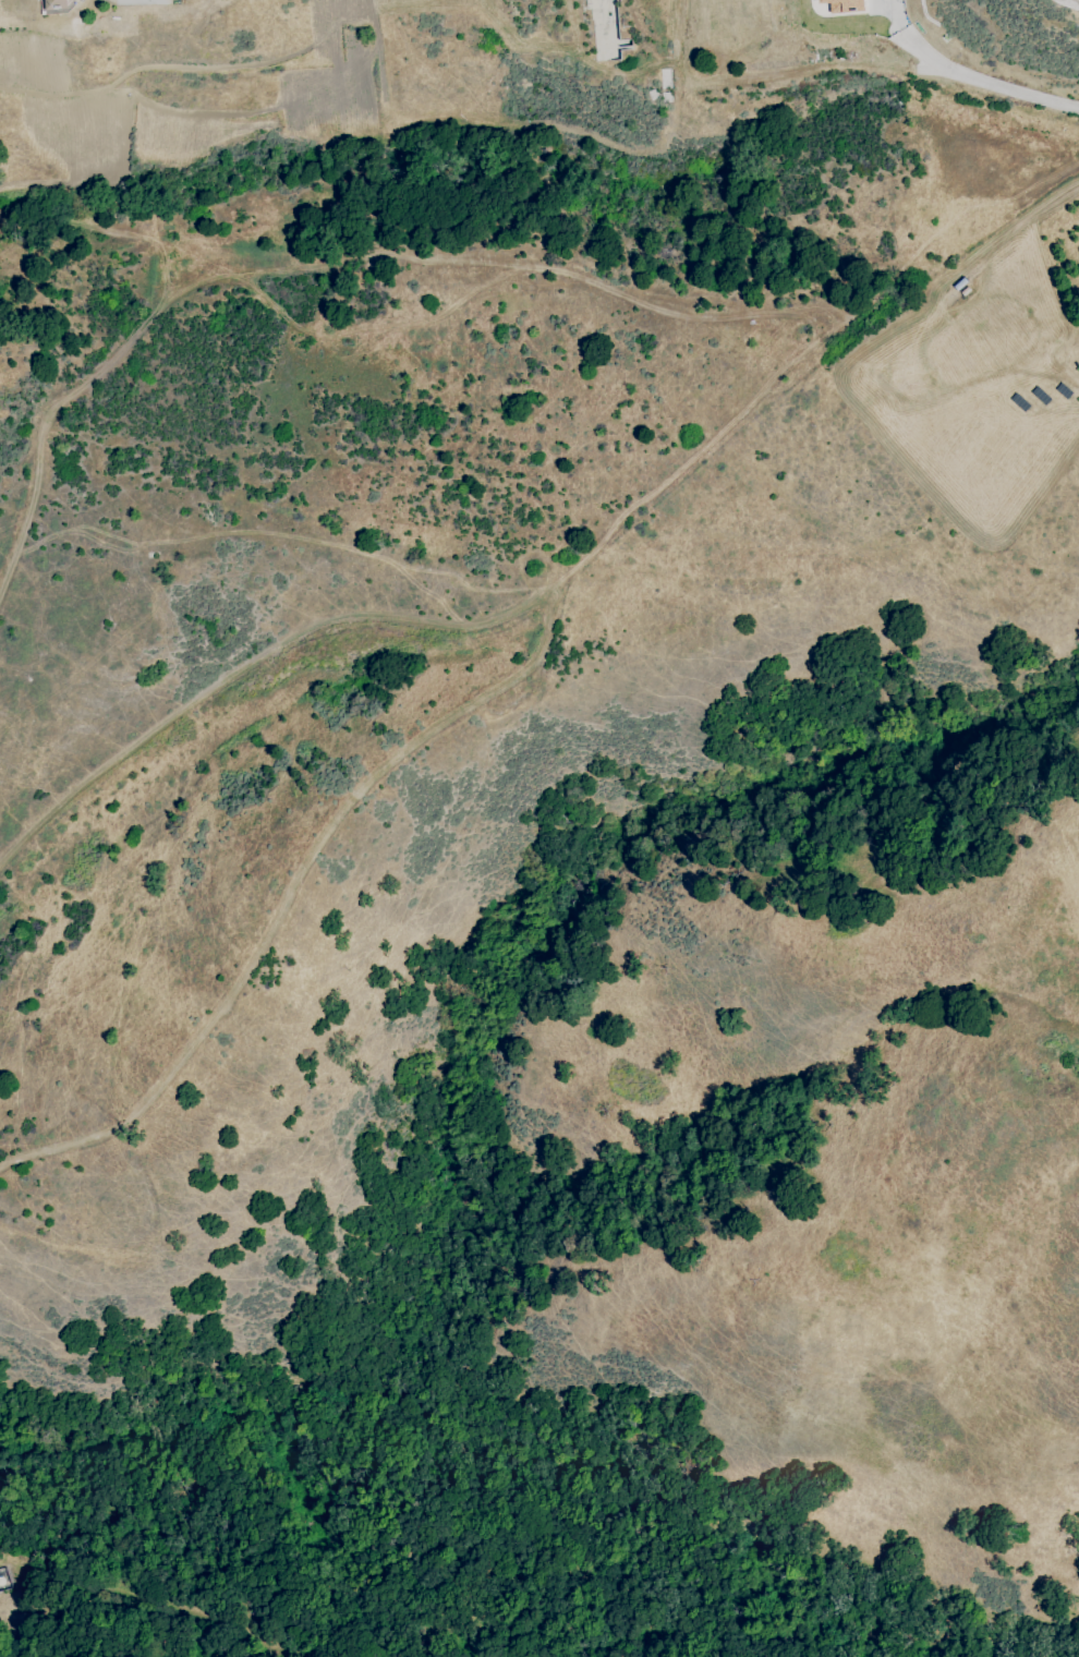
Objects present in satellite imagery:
building: (54, 5)
building: (844, 5)
road: (678, 25)
road: (967, 77)
road: (14, 1640)

